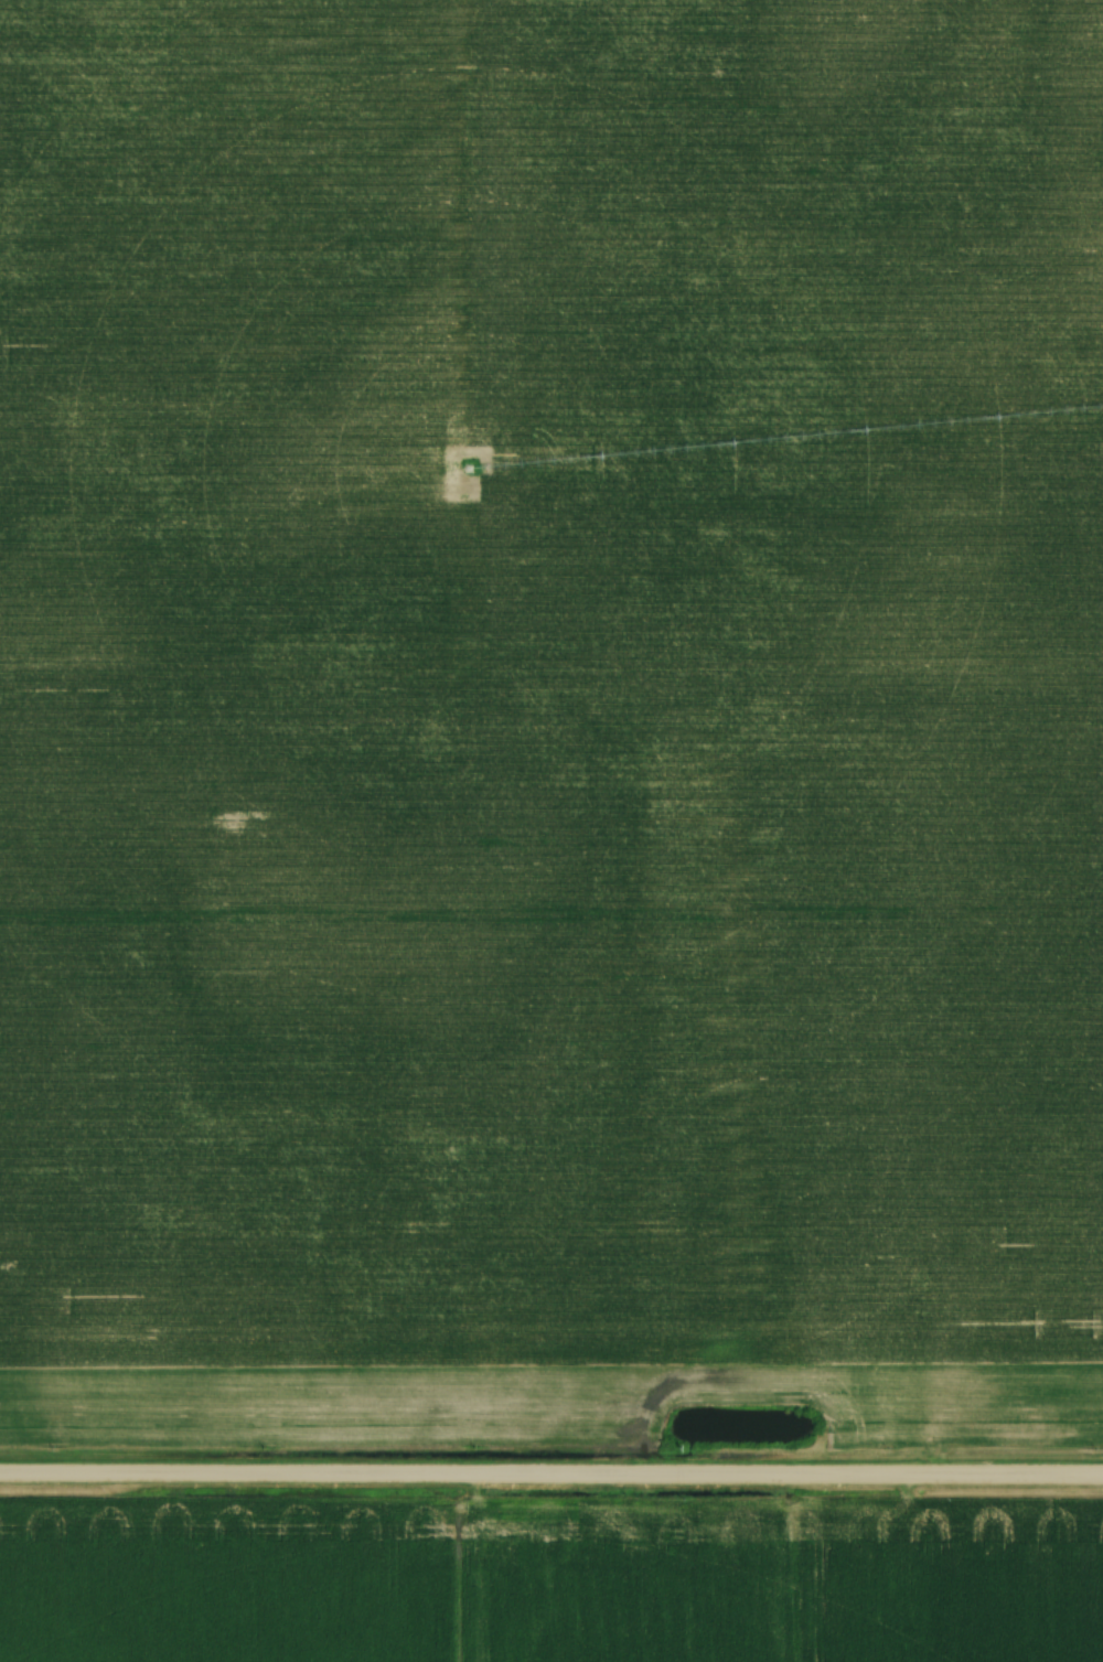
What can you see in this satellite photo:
road: (550, 1479)

